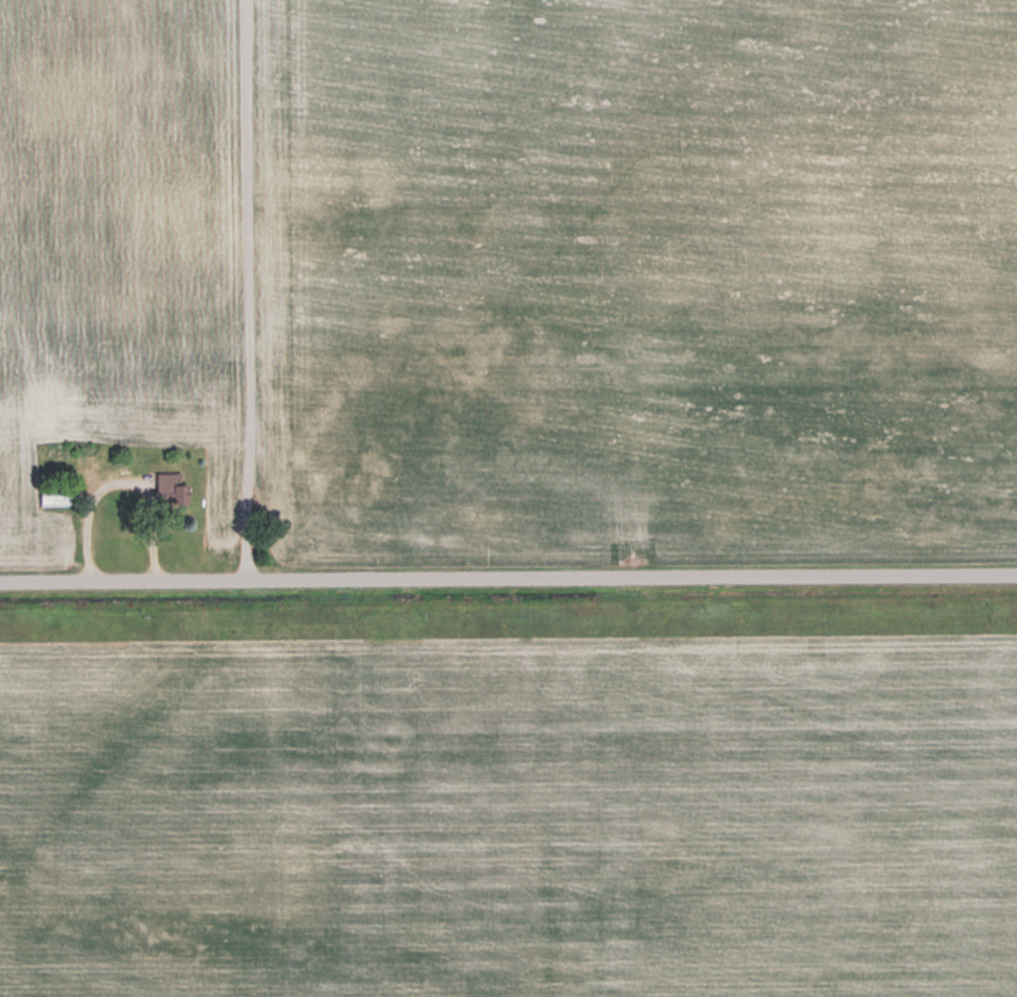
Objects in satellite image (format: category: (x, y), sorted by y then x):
road: (244, 291)
building: (174, 488)
road: (508, 579)

